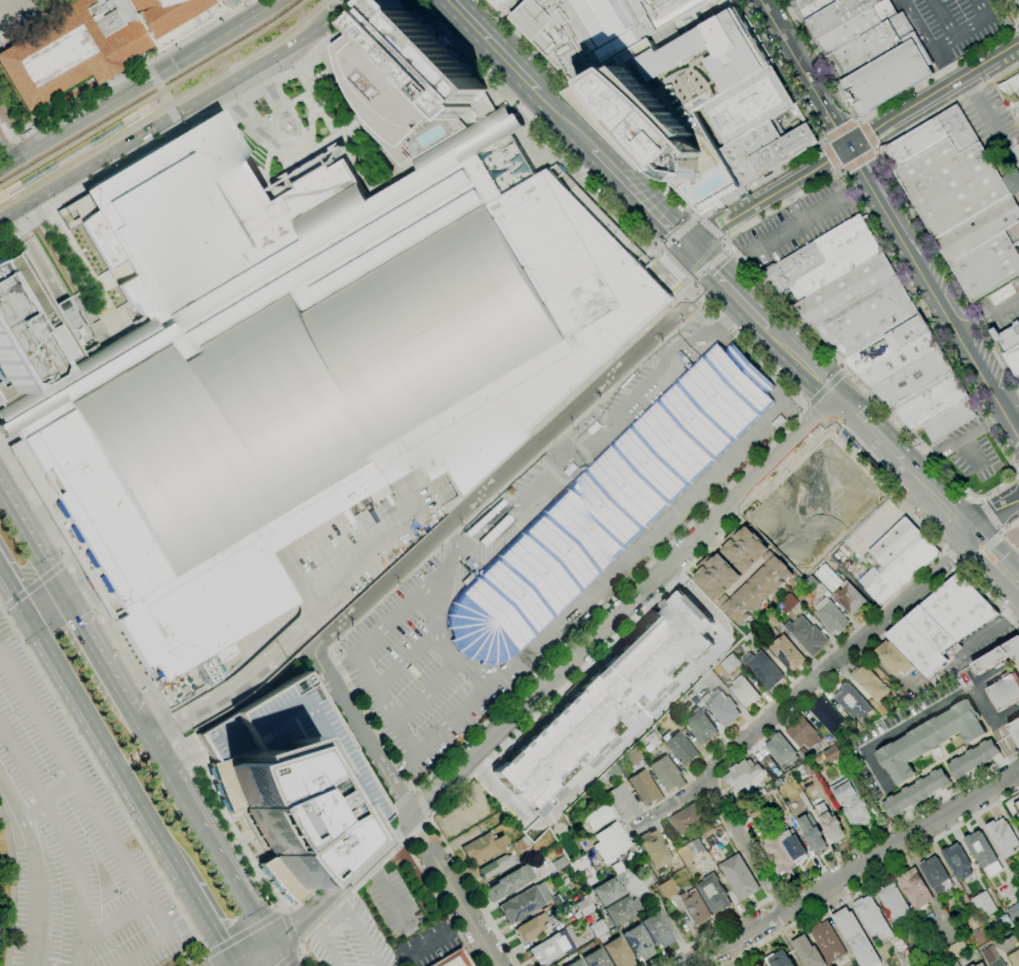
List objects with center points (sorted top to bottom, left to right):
parking lot: (794, 0)
building: (506, 3)
building: (8, 4)
building: (812, 6)
road: (342, 9)
road: (990, 10)
building: (837, 15)
road: (350, 17)
flagpole: (208, 20)
road: (949, 21)
flagpole: (202, 23)
road: (1018, 24)
parking lot: (953, 25)
building: (608, 26)
building: (857, 27)
flagpole: (194, 28)
road: (980, 31)
building: (96, 41)
traffic signals: (1018, 41)
road: (927, 42)
road: (495, 44)
building: (873, 47)
road: (1006, 48)
road: (146, 66)
road: (254, 68)
road: (805, 72)
flagpole: (323, 75)
road: (127, 76)
building: (887, 77)
traffic signals: (154, 78)
building: (1017, 78)
flagpole: (318, 79)
road: (155, 80)
flagpole: (313, 82)
building: (406, 83)
road: (947, 84)
road: (141, 85)
building: (1011, 93)
railway: (156, 94)
road: (166, 98)
building: (681, 99)
road: (891, 99)
road: (158, 102)
railway: (167, 106)
building: (750, 106)
railway: (152, 108)
road: (172, 108)
road: (513, 110)
traffic signals: (176, 115)
road: (177, 118)
road: (565, 119)
road: (858, 120)
parking lot: (994, 122)
road: (181, 124)
traffic signals: (836, 125)
road: (535, 128)
road: (874, 128)
road: (840, 131)
traffic signals: (871, 131)
road: (865, 135)
building: (930, 138)
road: (822, 141)
road: (6, 149)
building: (784, 149)
building: (750, 150)
road: (875, 150)
building: (72, 154)
road: (830, 156)
road: (856, 159)
road: (824, 160)
traffic signals: (825, 160)
road: (414, 161)
traffic signals: (860, 166)
road: (88, 167)
road: (107, 171)
road: (839, 171)
road: (867, 178)
building: (1012, 182)
building: (951, 185)
road: (776, 190)
parking lot: (1018, 197)
road: (641, 198)
road: (903, 199)
road: (793, 204)
road: (742, 211)
road: (701, 213)
road: (698, 217)
traffic signals: (725, 222)
parking lot: (798, 226)
traffic signals: (671, 229)
road: (709, 229)
building: (978, 229)
parking lot: (1018, 230)
road: (709, 231)
road: (679, 233)
road: (779, 235)
road: (722, 240)
road: (658, 250)
road: (727, 250)
building: (838, 255)
road: (35, 257)
road: (679, 257)
road: (75, 258)
road: (703, 264)
road: (706, 266)
building: (987, 266)
building: (794, 267)
road: (670, 268)
traffic signals: (664, 273)
road: (663, 274)
traffic signals: (713, 274)
road: (107, 280)
road: (687, 281)
road: (689, 287)
road: (90, 289)
building: (845, 289)
road: (730, 291)
road: (699, 297)
road: (80, 300)
road: (112, 302)
road: (988, 313)
road: (754, 316)
building: (867, 318)
road: (951, 319)
road: (113, 322)
building: (30, 331)
building: (905, 333)
road: (115, 334)
building: (1007, 336)
road: (667, 352)
building: (869, 354)
building: (1013, 359)
building: (304, 360)
building: (898, 360)
road: (803, 365)
road: (843, 370)
building: (912, 378)
parking lot: (331, 379)
parking lot: (331, 379)
road: (825, 389)
building: (929, 401)
traffic signals: (838, 402)
road: (806, 406)
road: (817, 417)
building: (947, 421)
building: (777, 422)
road: (829, 429)
road: (1018, 429)
road: (868, 431)
road: (956, 439)
road: (998, 440)
parking lot: (970, 452)
road: (514, 462)
road: (1018, 471)
road: (1015, 472)
road: (1018, 472)
road: (535, 488)
building: (821, 496)
building: (608, 505)
road: (750, 505)
road: (991, 511)
road: (986, 515)
road: (958, 523)
road: (422, 531)
road: (455, 531)
road: (769, 531)
parking lot: (868, 533)
road: (1000, 533)
road: (1002, 535)
road: (1004, 535)
park: (1013, 536)
road: (34, 540)
road: (658, 548)
road: (981, 550)
road: (953, 559)
road: (104, 560)
building: (896, 560)
road: (67, 561)
road: (109, 569)
building: (741, 574)
road: (115, 578)
road: (6, 580)
road: (33, 585)
road: (74, 586)
road: (6, 593)
road: (78, 593)
road: (587, 593)
road: (81, 597)
road: (991, 598)
traffic signals: (69, 599)
building: (850, 599)
road: (403, 604)
building: (787, 604)
road: (21, 606)
road: (4, 609)
road: (50, 611)
building: (830, 616)
building: (771, 620)
traffic signals: (31, 623)
building: (941, 624)
road: (299, 630)
building: (806, 635)
road: (439, 645)
building: (786, 653)
road: (103, 656)
building: (892, 658)
road: (406, 659)
building: (730, 664)
building: (762, 669)
building: (206, 671)
road: (556, 674)
building: (1014, 674)
road: (138, 675)
parking lot: (409, 682)
building: (869, 683)
road: (807, 685)
road: (427, 691)
building: (744, 691)
building: (851, 701)
road: (239, 702)
road: (386, 702)
building: (601, 703)
building: (721, 707)
road: (790, 714)
building: (827, 717)
road: (917, 717)
road: (355, 726)
building: (700, 726)
building: (1015, 730)
building: (802, 733)
building: (930, 739)
road: (1007, 739)
building: (651, 741)
parking lot: (313, 748)
building: (680, 748)
road: (106, 749)
building: (780, 750)
road: (1001, 750)
building: (832, 754)
building: (803, 755)
building: (635, 757)
building: (763, 759)
building: (972, 759)
building: (804, 770)
building: (615, 772)
building: (667, 773)
building: (742, 774)
road: (175, 779)
road: (104, 780)
building: (290, 785)
building: (645, 788)
road: (416, 790)
building: (916, 793)
road: (49, 796)
road: (400, 801)
building: (623, 802)
road: (423, 803)
building: (852, 803)
building: (1016, 807)
road: (405, 809)
road: (679, 809)
road: (387, 813)
road: (429, 816)
building: (758, 816)
road: (387, 817)
building: (598, 817)
road: (99, 818)
building: (688, 818)
road: (901, 820)
building: (829, 823)
road: (395, 830)
road: (417, 830)
building: (812, 833)
road: (65, 836)
building: (1002, 837)
parking lot: (75, 839)
road: (403, 842)
building: (523, 843)
building: (610, 843)
road: (744, 843)
building: (792, 845)
building: (483, 847)
building: (654, 848)
building: (694, 848)
building: (980, 849)
road: (395, 852)
building: (777, 853)
building: (957, 861)
building: (559, 864)
road: (336, 865)
road: (34, 866)
building: (496, 866)
road: (854, 867)
building: (616, 868)
building: (993, 869)
building: (546, 874)
building: (935, 875)
building: (738, 877)
road: (869, 878)
building: (509, 882)
road: (9, 887)
park: (8, 888)
building: (668, 888)
road: (783, 889)
building: (914, 889)
building: (610, 890)
road: (386, 892)
road: (242, 894)
road: (776, 894)
building: (713, 895)
road: (769, 898)
building: (893, 903)
building: (983, 904)
road: (462, 905)
building: (520, 905)
parking lot: (395, 906)
building: (694, 906)
building: (585, 907)
road: (283, 909)
building: (622, 910)
building: (1013, 912)
road: (205, 917)
building: (871, 917)
road: (115, 918)
road: (667, 919)
building: (1003, 923)
road: (340, 925)
building: (531, 927)
building: (597, 928)
road: (290, 929)
building: (657, 930)
traffic signals: (291, 931)
road: (712, 933)
road: (242, 934)
building: (981, 935)
road: (438, 938)
building: (855, 938)
building: (826, 942)
traffic signals: (272, 943)
building: (638, 943)
road: (299, 949)
building: (548, 949)
road: (251, 951)
building: (617, 952)
building: (807, 952)
building: (953, 952)
road: (262, 954)
road: (278, 954)
building: (989, 955)
road: (202, 957)
road: (289, 957)
building: (595, 958)
building: (1014, 958)
traffic signals: (231, 959)
building: (453, 959)
building: (778, 959)
building: (935, 959)
road: (193, 961)
road: (205, 962)
road: (225, 962)
road: (233, 962)
building: (575, 963)
building: (996, 963)
road: (45, 964)
building: (953, 964)
building: (980, 964)
building: (972, 965)

